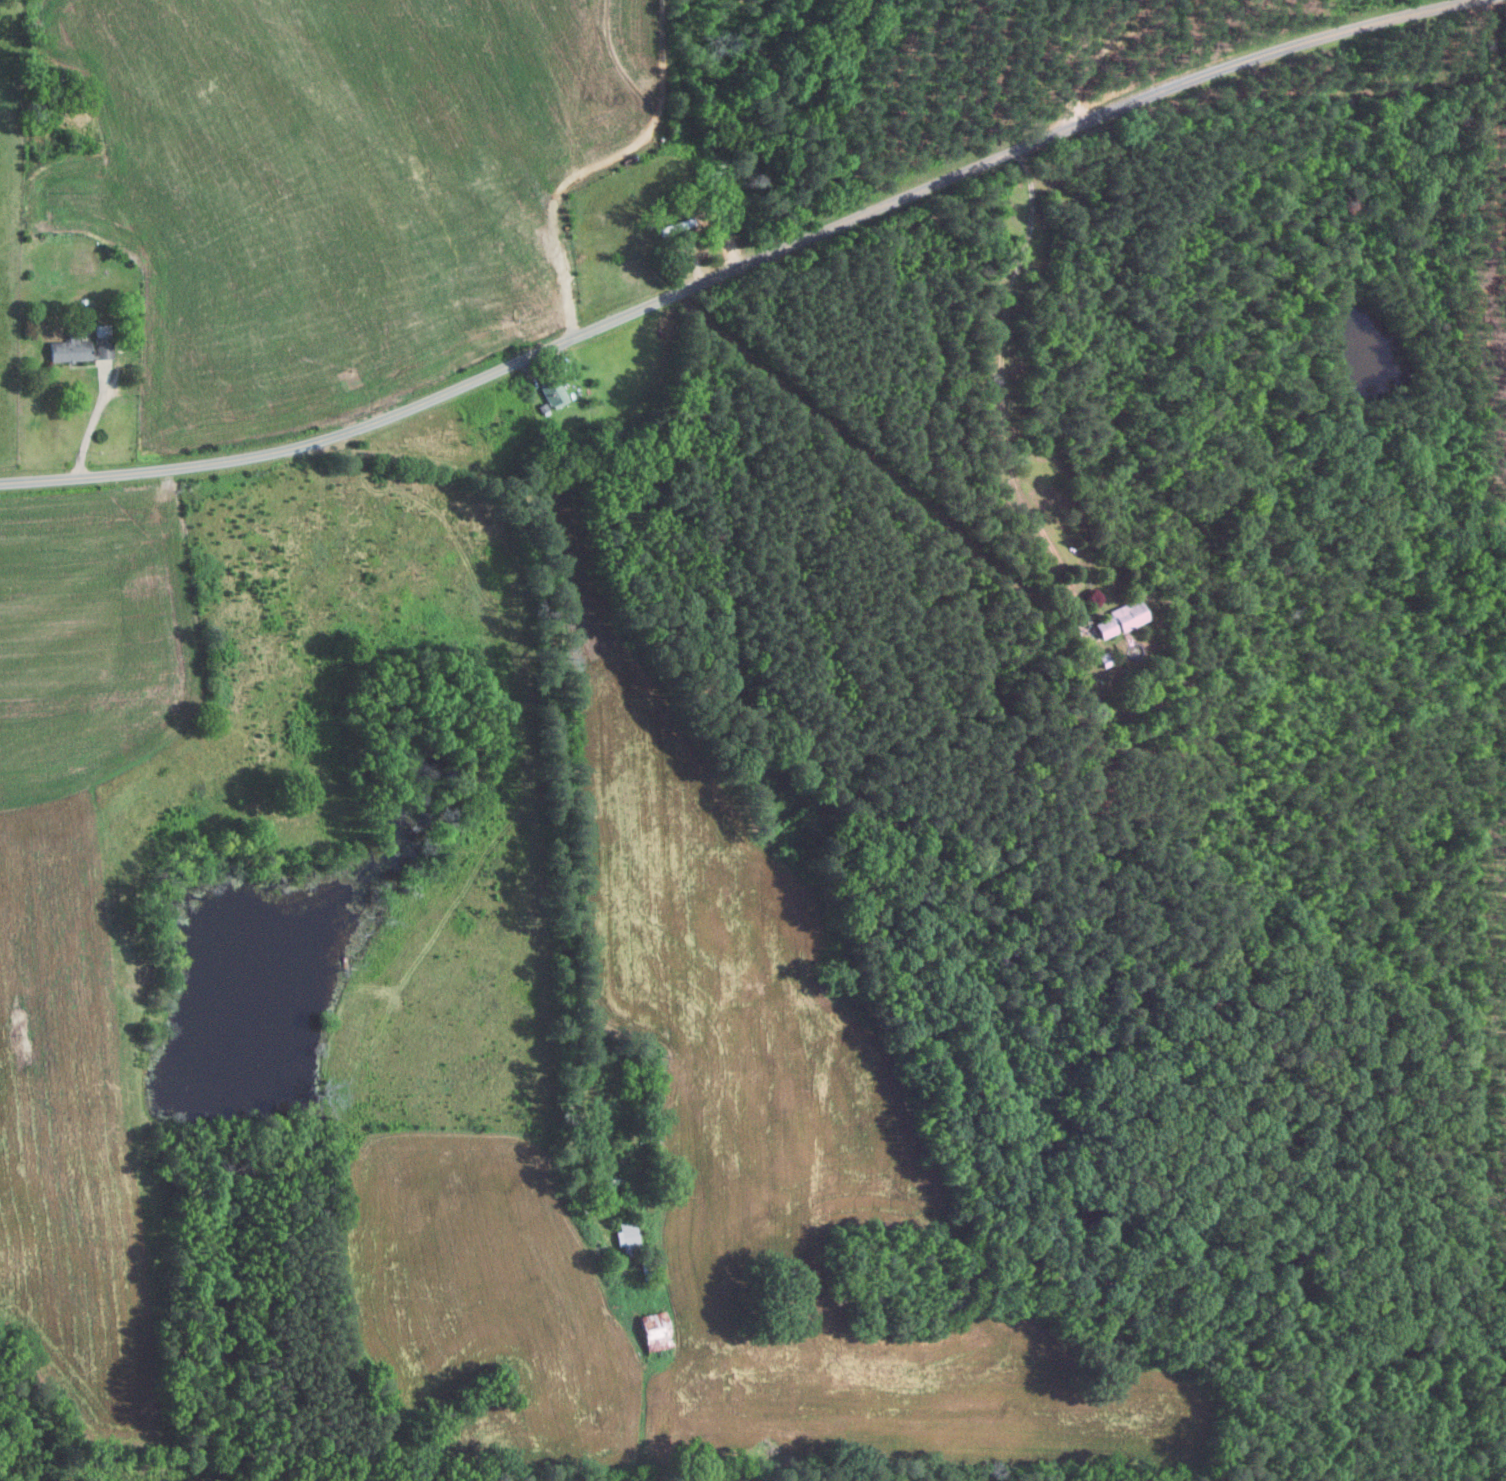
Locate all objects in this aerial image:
road: (747, 266)
building: (1121, 621)
building: (610, 1150)
building: (628, 1239)
building: (654, 1333)

